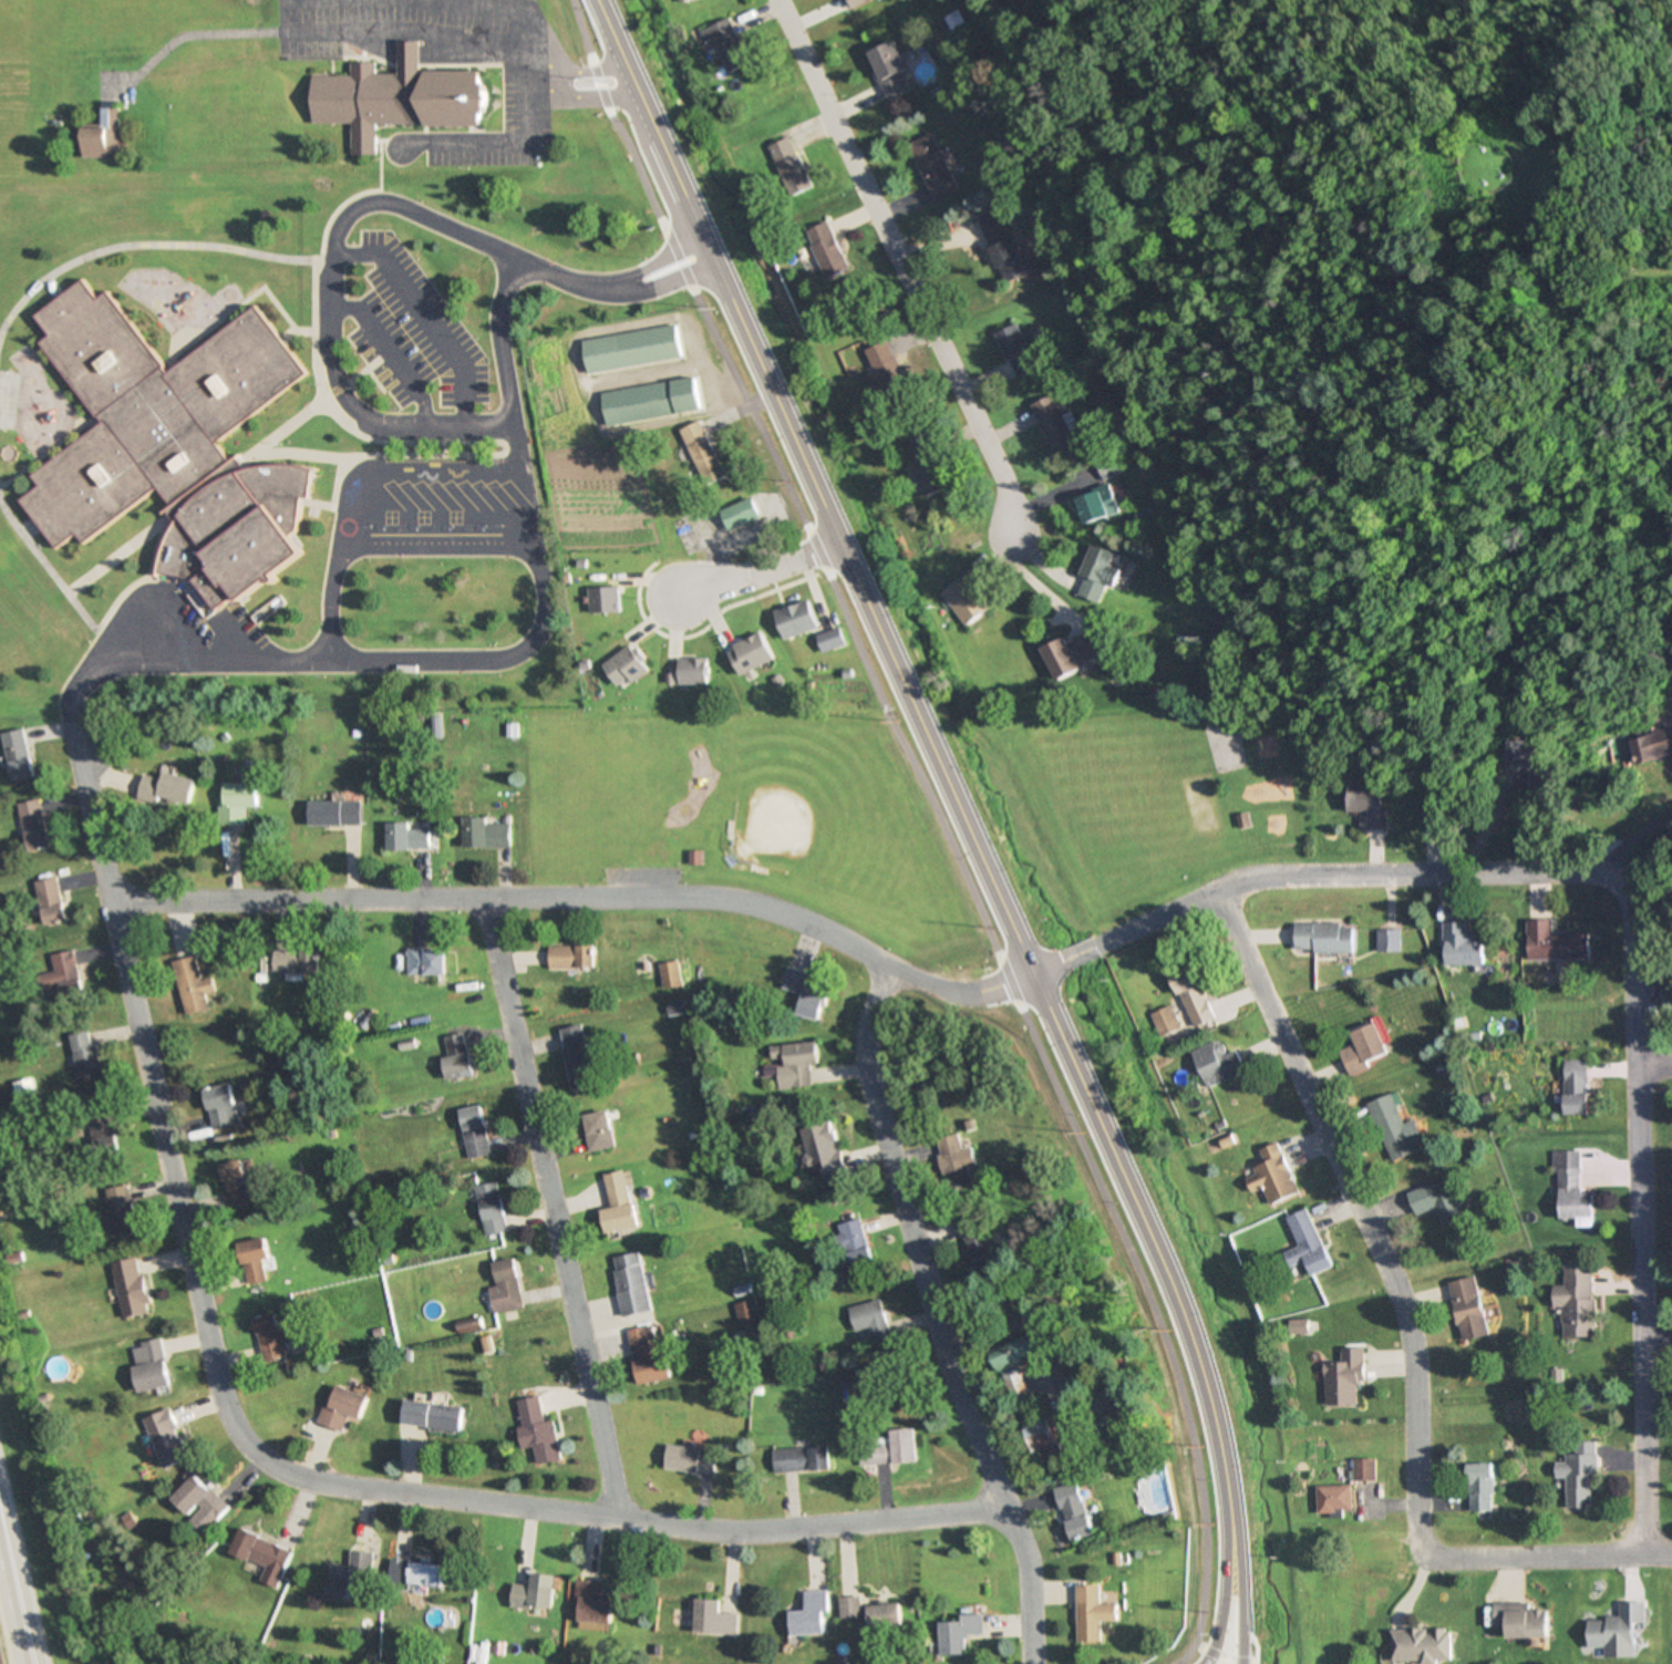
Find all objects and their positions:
building: (683, 0)
building: (956, 21)
building: (729, 43)
road: (548, 50)
building: (889, 70)
building: (401, 97)
building: (105, 135)
building: (792, 167)
building: (933, 167)
building: (829, 250)
building: (1005, 251)
road: (901, 267)
road: (615, 286)
building: (633, 349)
building: (1019, 352)
building: (885, 368)
building: (653, 401)
road: (514, 418)
building: (1055, 426)
building: (175, 445)
building: (704, 453)
building: (929, 467)
building: (1106, 467)
building: (1098, 506)
building: (742, 514)
road: (763, 570)
building: (1098, 573)
building: (606, 600)
building: (969, 600)
building: (797, 620)
building: (1218, 623)
building: (833, 640)
building: (753, 654)
building: (1076, 654)
building: (627, 668)
building: (694, 672)
building: (1654, 747)
building: (19, 755)
building: (1527, 758)
building: (168, 790)
road: (963, 797)
park: (1143, 797)
building: (238, 802)
building: (1366, 806)
park: (742, 810)
building: (334, 814)
building: (1430, 814)
building: (35, 825)
building: (485, 835)
building: (407, 837)
road: (1640, 849)
road: (588, 898)
building: (51, 902)
road: (1628, 918)
building: (1325, 938)
building: (1389, 941)
building: (1555, 943)
building: (1462, 945)
building: (571, 958)
building: (299, 962)
building: (427, 962)
building: (672, 975)
building: (65, 976)
building: (193, 986)
building: (809, 991)
building: (1196, 994)
building: (1167, 1022)
building: (1366, 1048)
building: (83, 1057)
building: (456, 1057)
building: (578, 1057)
building: (797, 1062)
building: (1219, 1063)
road: (1653, 1065)
building: (1578, 1087)
building: (220, 1108)
building: (1396, 1126)
building: (101, 1131)
building: (599, 1131)
building: (474, 1133)
building: (825, 1153)
building: (957, 1161)
building: (1277, 1176)
building: (240, 1185)
building: (1571, 1191)
building: (1438, 1201)
building: (619, 1205)
road: (551, 1208)
building: (118, 1210)
building: (491, 1210)
road: (182, 1234)
building: (980, 1240)
building: (1309, 1243)
building: (856, 1246)
building: (254, 1261)
building: (631, 1284)
building: (505, 1288)
building: (130, 1289)
building: (1577, 1301)
building: (1469, 1310)
building: (747, 1316)
road: (936, 1316)
building: (870, 1320)
building: (1301, 1327)
road: (1407, 1330)
building: (272, 1337)
building: (647, 1358)
building: (148, 1366)
building: (1021, 1376)
building: (1346, 1379)
building: (1117, 1399)
building: (340, 1408)
building: (432, 1416)
building: (537, 1432)
building: (166, 1440)
building: (1046, 1440)
building: (888, 1448)
building: (690, 1460)
building: (802, 1460)
building: (1366, 1471)
building: (1580, 1476)
building: (1482, 1488)
building: (1338, 1500)
building: (198, 1505)
building: (1075, 1512)
building: (261, 1557)
building: (415, 1574)
building: (350, 1577)
road: (1243, 1589)
building: (535, 1594)
building: (592, 1603)
building: (849, 1608)
road: (11, 1612)
building: (1516, 1612)
road: (16, 1614)
building: (1094, 1614)
building: (811, 1616)
building: (713, 1620)
building: (883, 1621)
building: (1612, 1621)
building: (959, 1635)
building: (1417, 1639)
road: (1237, 1640)
road: (1221, 1643)

